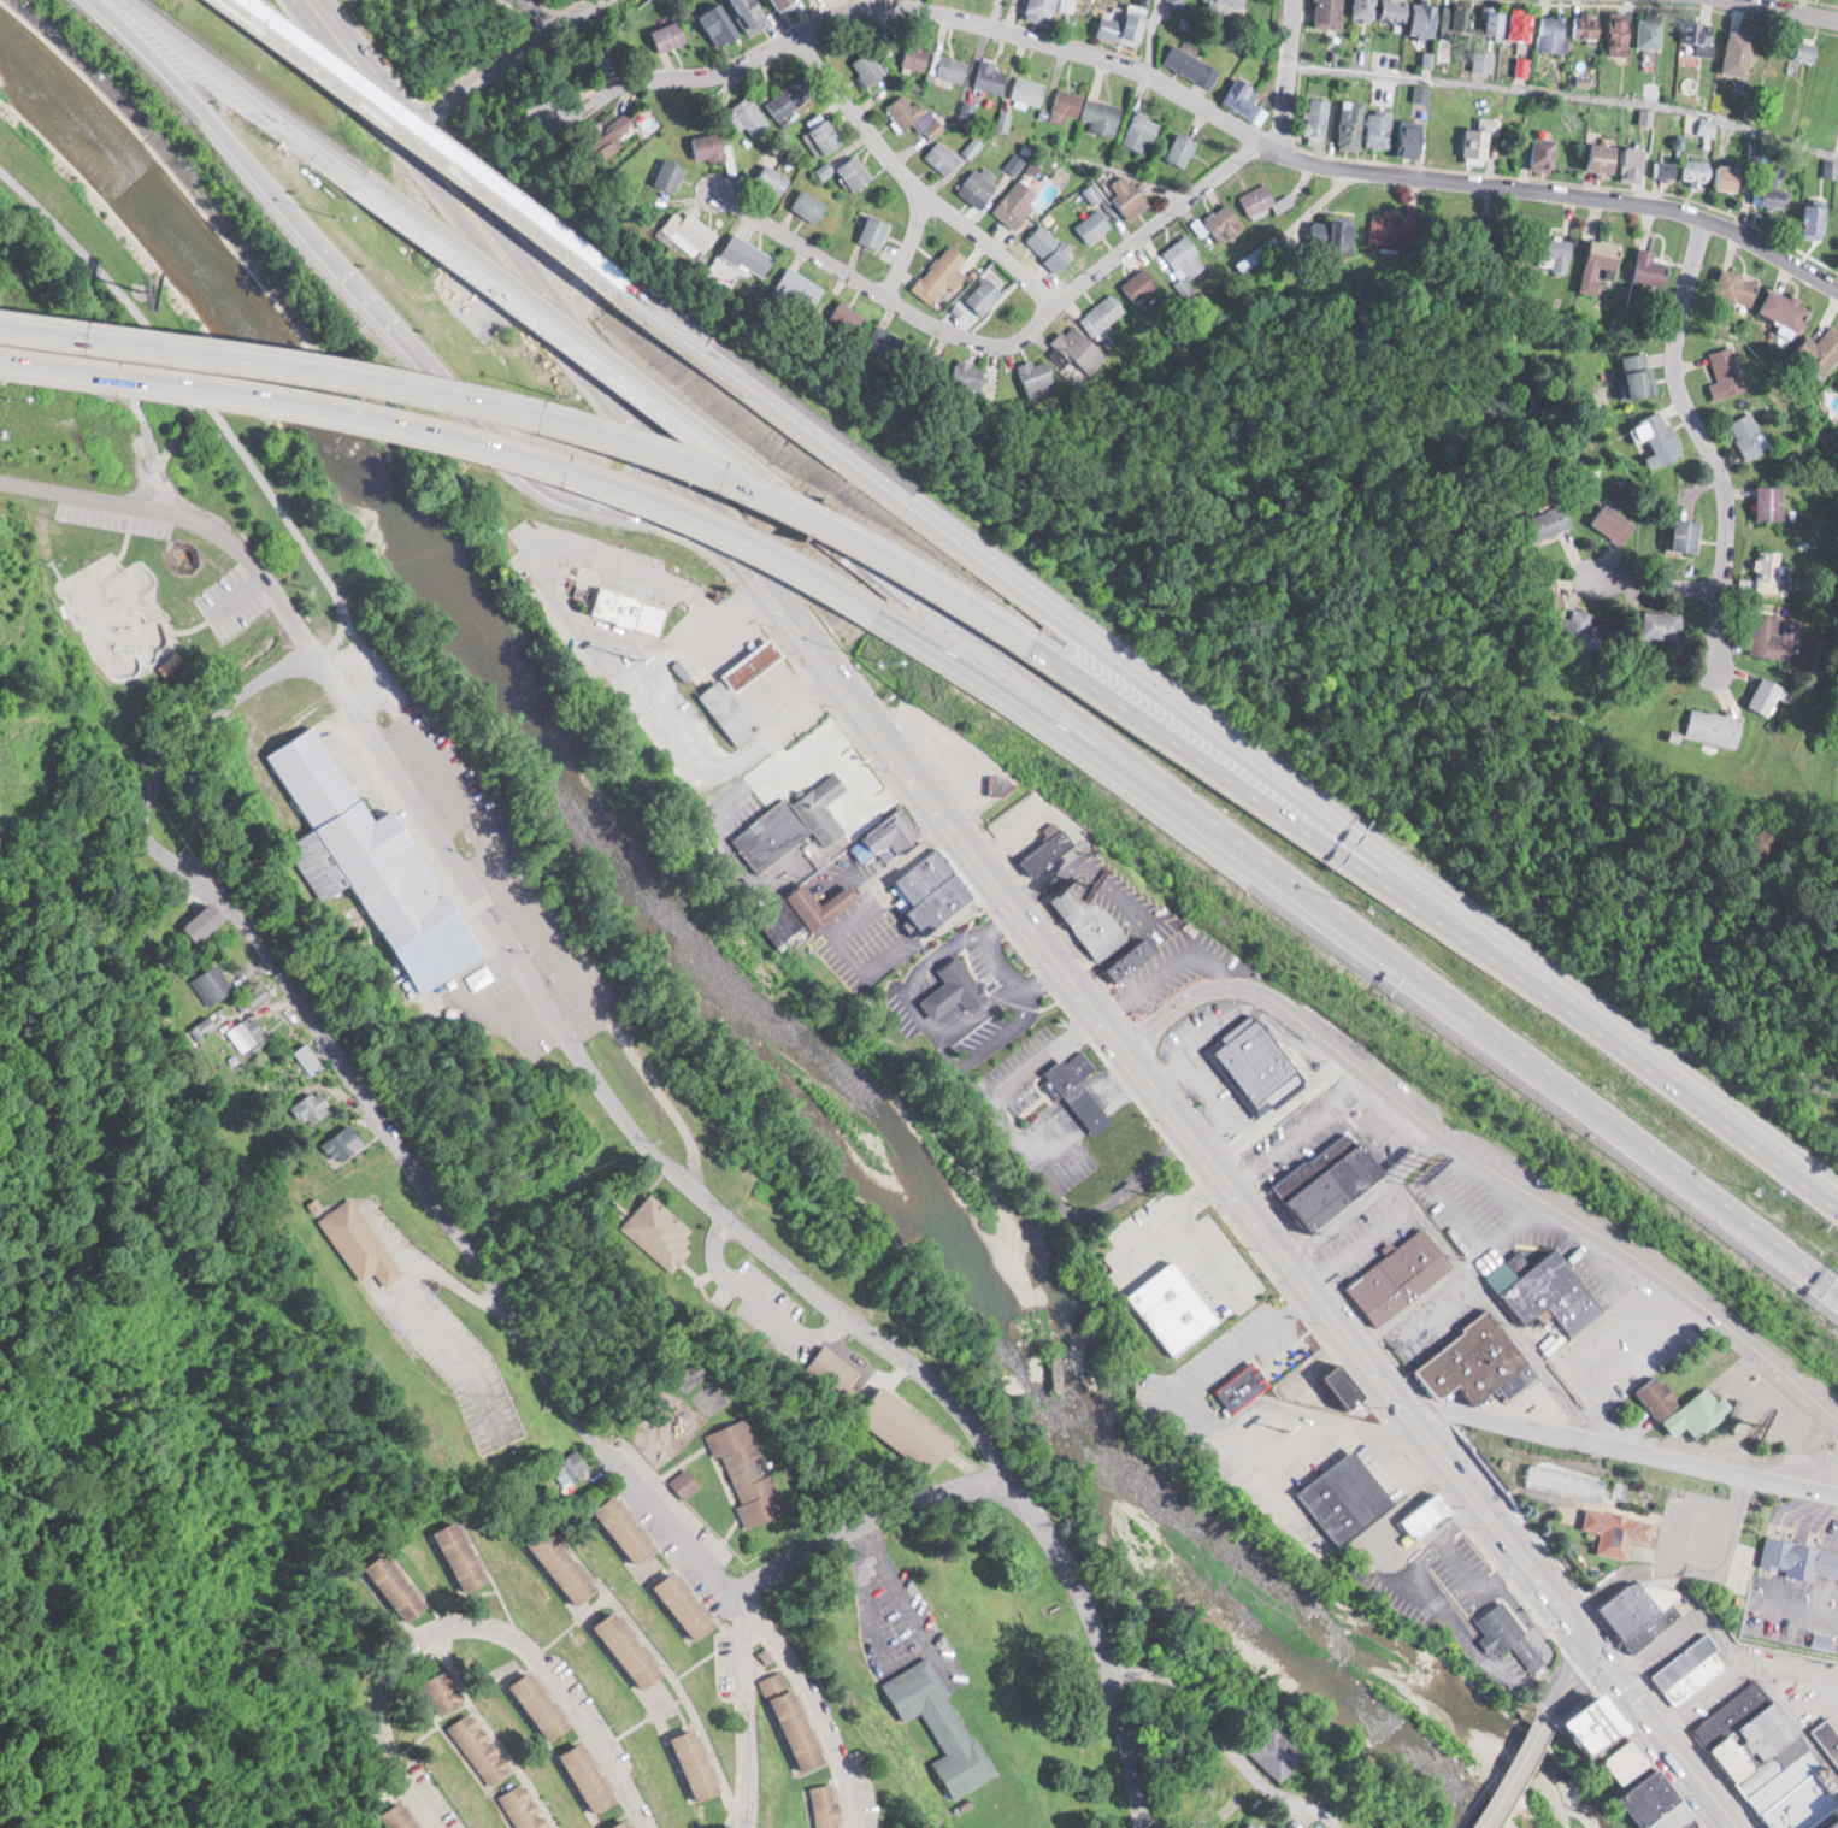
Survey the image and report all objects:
building: (1178, 1)
building: (1224, 1)
building: (784, 4)
building: (1366, 7)
building: (1045, 8)
road: (537, 10)
building: (1396, 10)
road: (1778, 11)
building: (749, 12)
building: (1329, 13)
road: (1000, 14)
building: (1426, 17)
building: (1457, 19)
building: (1497, 22)
building: (1587, 23)
building: (719, 24)
building: (1522, 24)
building: (1126, 26)
building: (1650, 29)
building: (1553, 31)
building: (1622, 31)
building: (670, 35)
building: (1698, 36)
building: (1805, 49)
building: (1739, 52)
building: (915, 55)
road: (354, 59)
road: (489, 59)
building: (1194, 64)
building: (870, 66)
building: (949, 66)
building: (991, 75)
road: (245, 89)
building: (1029, 89)
road: (1563, 94)
road: (1198, 104)
building: (1066, 105)
building: (749, 114)
building: (915, 114)
building: (1102, 116)
building: (1318, 117)
building: (628, 120)
building: (1351, 123)
building: (1380, 128)
building: (1141, 131)
building: (826, 134)
building: (1413, 136)
building: (1837, 138)
building: (713, 145)
building: (1477, 145)
road: (436, 148)
building: (1182, 148)
building: (1545, 152)
building: (943, 155)
building: (1607, 157)
building: (1636, 161)
building: (1666, 167)
building: (676, 171)
building: (855, 171)
building: (1712, 173)
building: (773, 179)
road: (909, 179)
building: (980, 184)
building: (1130, 194)
building: (1771, 194)
building: (1263, 200)
building: (1017, 202)
building: (812, 204)
building: (1816, 219)
building: (1224, 220)
building: (1094, 224)
building: (1397, 226)
building: (700, 229)
building: (876, 230)
building: (1337, 235)
road: (905, 244)
building: (1050, 247)
building: (755, 253)
building: (1556, 253)
building: (1185, 256)
building: (1598, 263)
building: (1650, 269)
building: (942, 272)
building: (1141, 283)
building: (805, 284)
building: (1739, 289)
road: (1060, 291)
building: (985, 294)
building: (1786, 307)
building: (1103, 312)
building: (849, 317)
road: (401, 324)
road: (569, 332)
building: (893, 341)
building: (1080, 347)
building: (1826, 349)
road: (190, 368)
building: (979, 373)
building: (1640, 373)
building: (1726, 373)
building: (1039, 377)
road: (624, 405)
road: (532, 408)
road: (455, 432)
building: (1749, 434)
road: (1699, 437)
building: (1660, 438)
building: (1769, 501)
building: (1613, 520)
building: (1689, 533)
building: (1768, 567)
road: (1654, 582)
building: (631, 608)
park: (104, 611)
road: (1061, 611)
park: (123, 612)
building: (1661, 623)
building: (1586, 629)
road: (340, 630)
building: (1769, 637)
building: (755, 662)
road: (1001, 665)
building: (1766, 696)
building: (731, 709)
road: (1055, 726)
building: (1716, 726)
building: (952, 750)
building: (1000, 784)
road: (1248, 784)
building: (825, 807)
building: (771, 833)
building: (886, 839)
building: (1048, 847)
building: (375, 862)
building: (932, 890)
building: (824, 903)
building: (1091, 916)
building: (205, 920)
road: (513, 945)
road: (1373, 956)
building: (1132, 959)
building: (214, 984)
building: (958, 986)
river: (727, 996)
building: (248, 1033)
building: (310, 1057)
building: (1257, 1063)
road: (1653, 1075)
building: (1077, 1093)
road: (364, 1097)
building: (344, 1143)
road: (1488, 1161)
building: (1333, 1178)
road: (1677, 1189)
road: (1366, 1197)
building: (659, 1232)
building: (361, 1242)
road: (1290, 1260)
building: (1401, 1275)
building: (1547, 1290)
road: (1412, 1305)
road: (1496, 1309)
building: (1480, 1361)
building: (830, 1369)
building: (1244, 1385)
building: (1348, 1386)
building: (1660, 1394)
building: (1702, 1411)
building: (909, 1428)
road: (1619, 1446)
building: (572, 1467)
building: (750, 1472)
building: (687, 1481)
building: (1348, 1497)
building: (1430, 1515)
road: (866, 1519)
building: (1621, 1529)
building: (626, 1531)
building: (463, 1553)
road: (1669, 1557)
building: (1799, 1558)
building: (564, 1564)
building: (396, 1585)
building: (688, 1603)
building: (1643, 1610)
road: (479, 1624)
building: (1512, 1634)
road: (1104, 1641)
road: (1659, 1645)
building: (634, 1649)
road: (1761, 1661)
building: (1691, 1669)
road: (1568, 1683)
building: (444, 1692)
road: (1706, 1697)
road: (815, 1698)
building: (544, 1705)
road: (750, 1708)
building: (942, 1723)
building: (803, 1728)
building: (1619, 1738)
road: (1226, 1745)
building: (479, 1747)
building: (1282, 1753)
building: (1778, 1757)
building: (700, 1762)
road: (1515, 1775)
building: (591, 1776)
building: (1666, 1804)
building: (826, 1806)
building: (524, 1808)
building: (402, 1818)
building: (625, 1824)
building: (1255, 1824)

